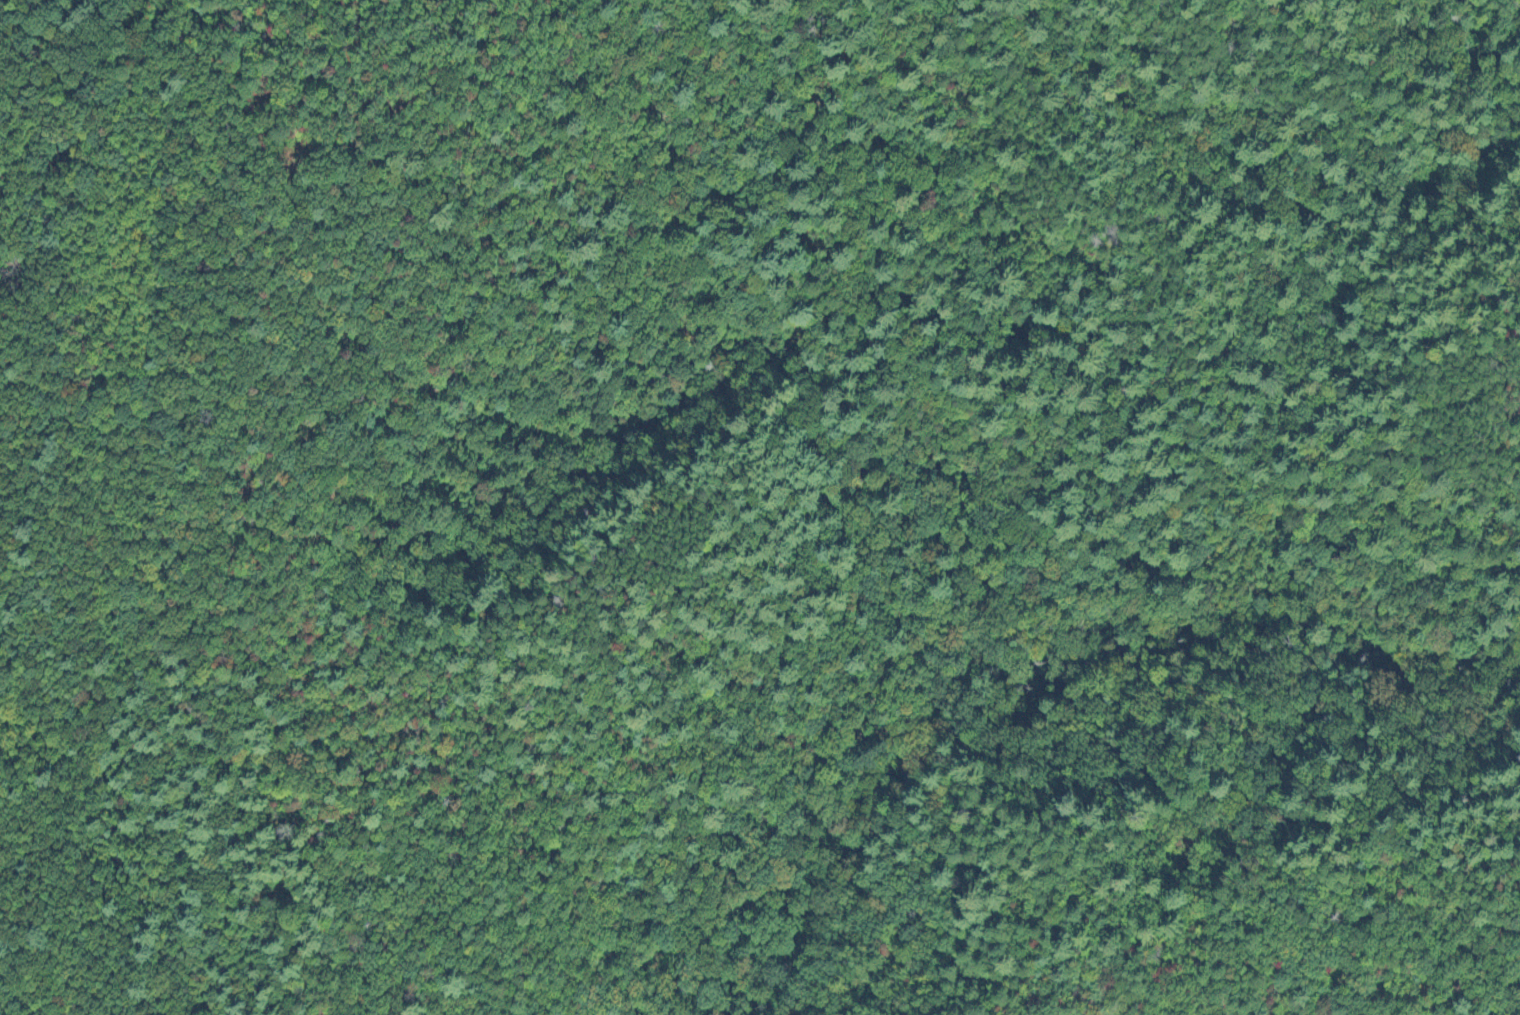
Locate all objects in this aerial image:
road: (1102, 501)

